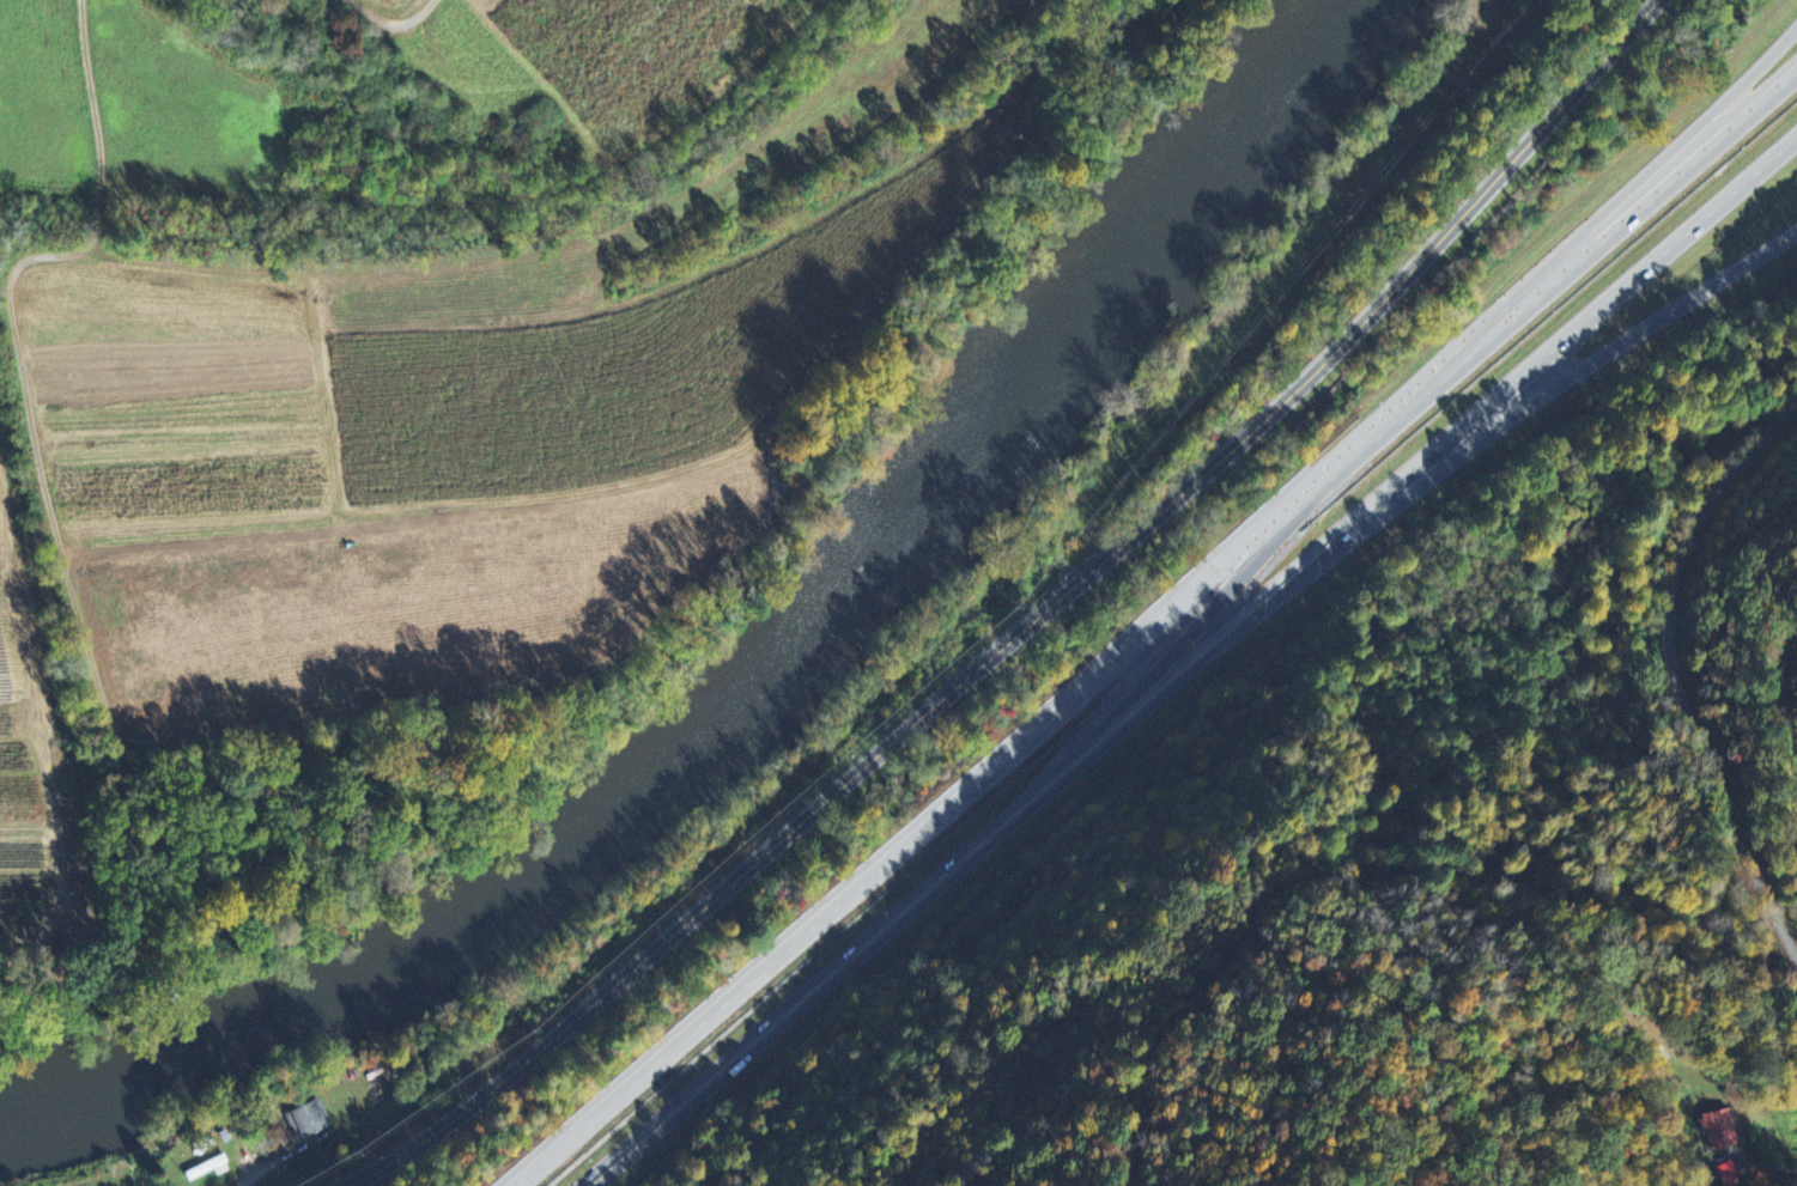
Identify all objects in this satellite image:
river: (1259, 121)
road: (1571, 249)
river: (1086, 318)
road: (1506, 422)
road: (1031, 622)
road: (1155, 631)
road: (1194, 661)
road: (1675, 673)
river: (704, 749)
power tower: (1394, 843)
river: (160, 1066)
building: (310, 1121)
building: (1717, 1127)
road: (1762, 1168)
building: (1728, 1173)

